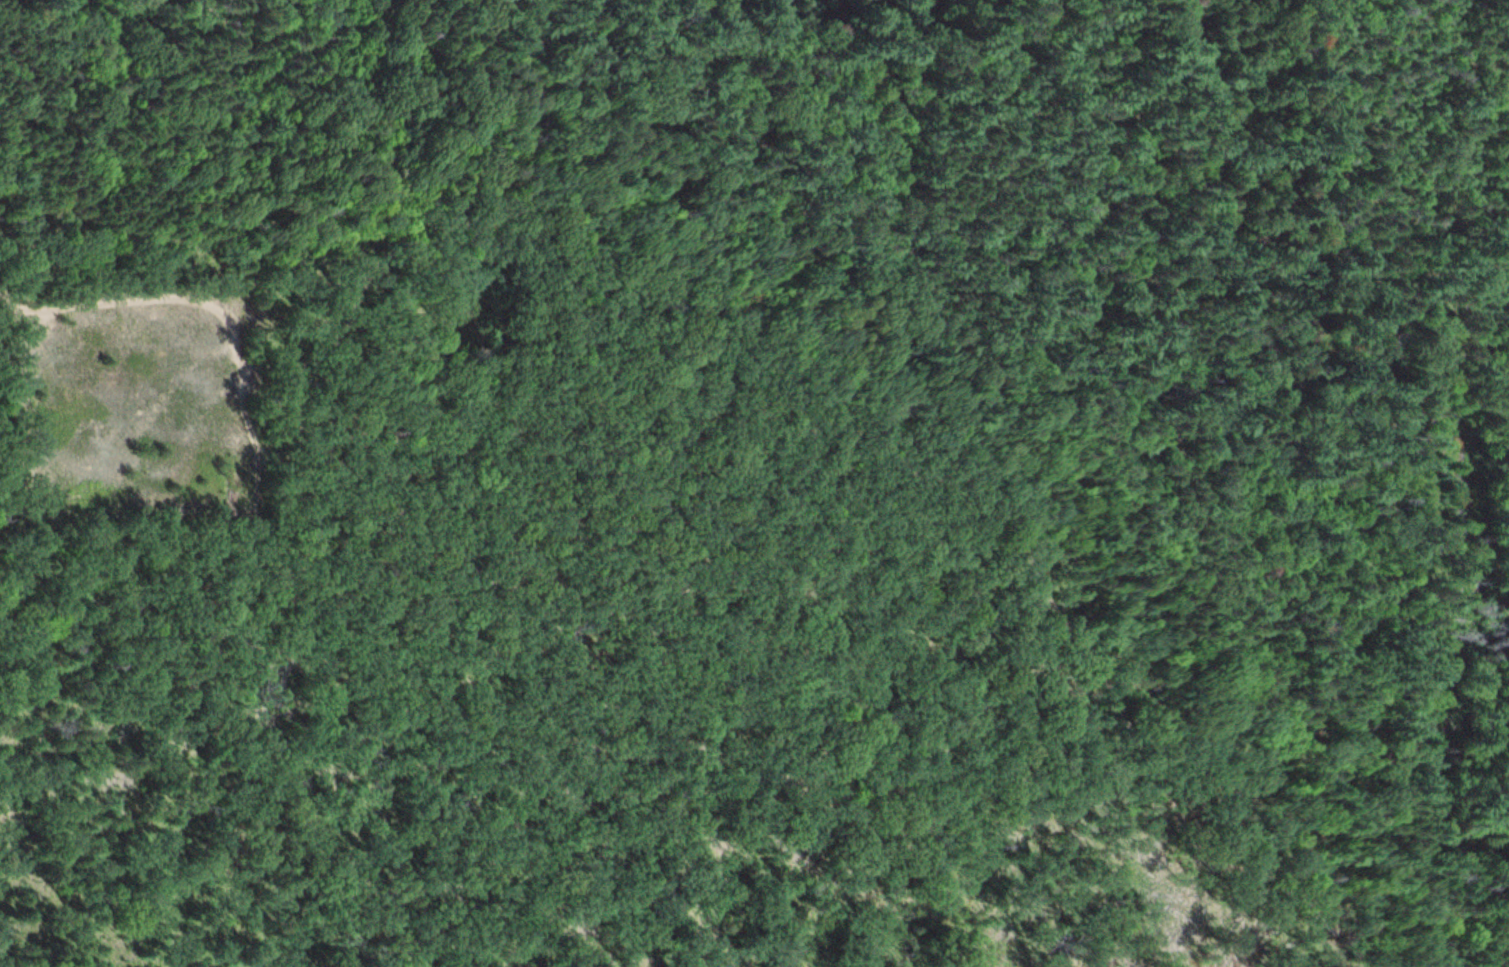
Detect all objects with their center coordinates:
road: (775, 40)
road: (1455, 143)
road: (189, 295)
road: (1380, 427)
road: (869, 446)
road: (1496, 849)
road: (1486, 885)
road: (1338, 940)

